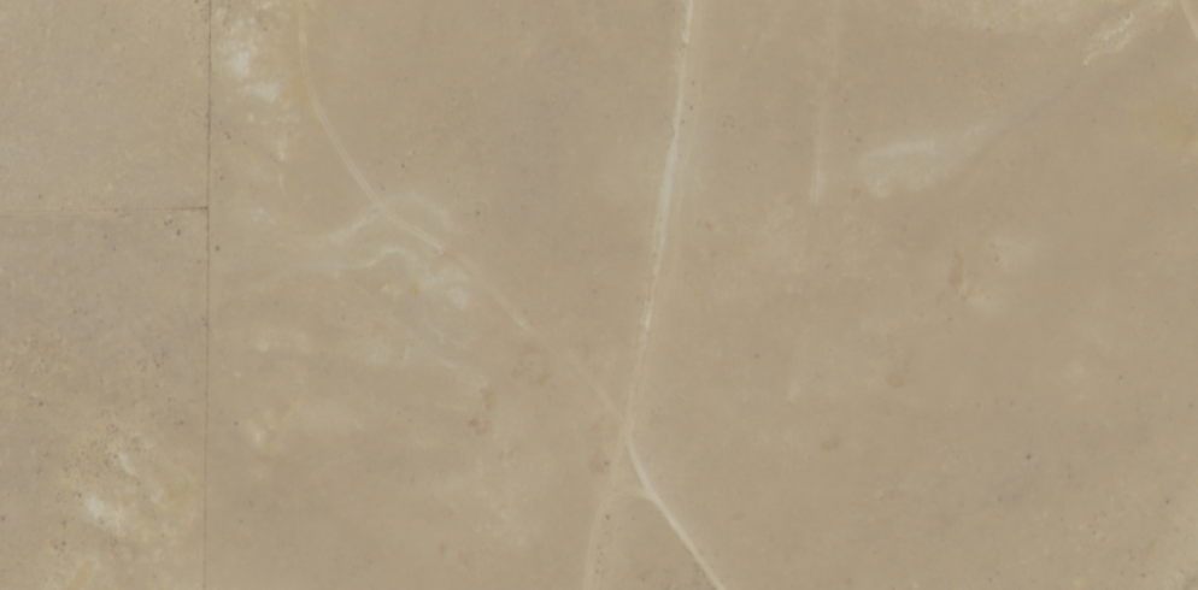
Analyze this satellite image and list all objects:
road: (1190, 20)
road: (648, 294)

